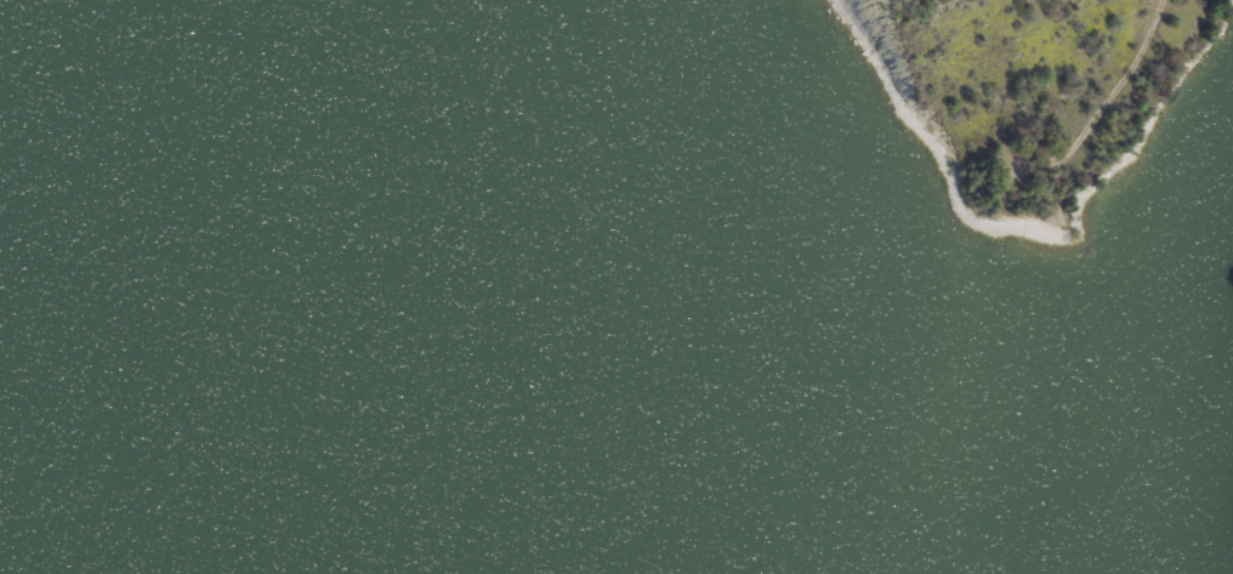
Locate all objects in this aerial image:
road: (1107, 92)
road: (1002, 167)

